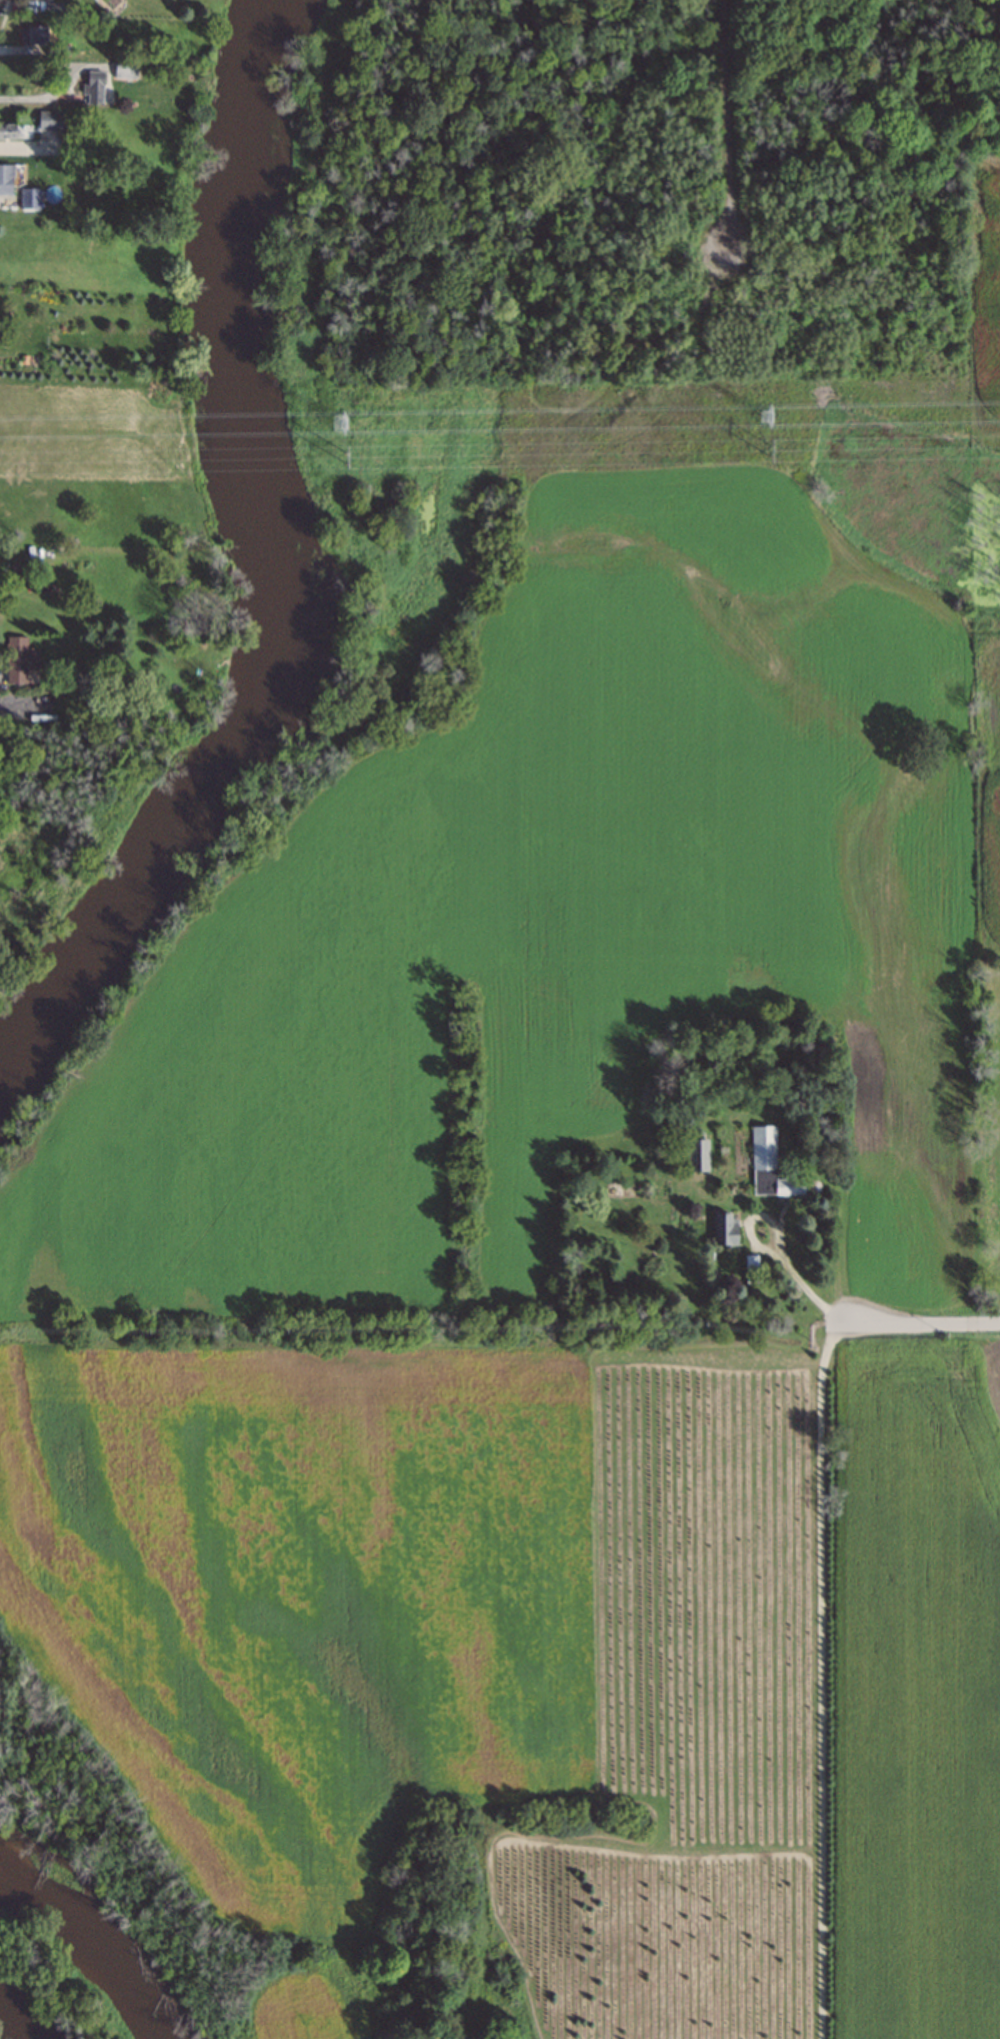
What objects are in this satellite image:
building: (37, 35)
building: (125, 70)
building: (98, 88)
road: (44, 97)
building: (50, 121)
road: (729, 127)
building: (8, 131)
building: (6, 180)
park: (604, 197)
building: (29, 198)
power tower: (766, 418)
power tower: (339, 424)
power tower: (766, 451)
power tower: (344, 458)
river: (258, 565)
building: (20, 661)
road: (15, 707)
building: (698, 1157)
building: (769, 1168)
building: (725, 1230)
building: (750, 1271)
road: (792, 1275)
road: (921, 1323)
road: (820, 1678)
river: (18, 2015)

